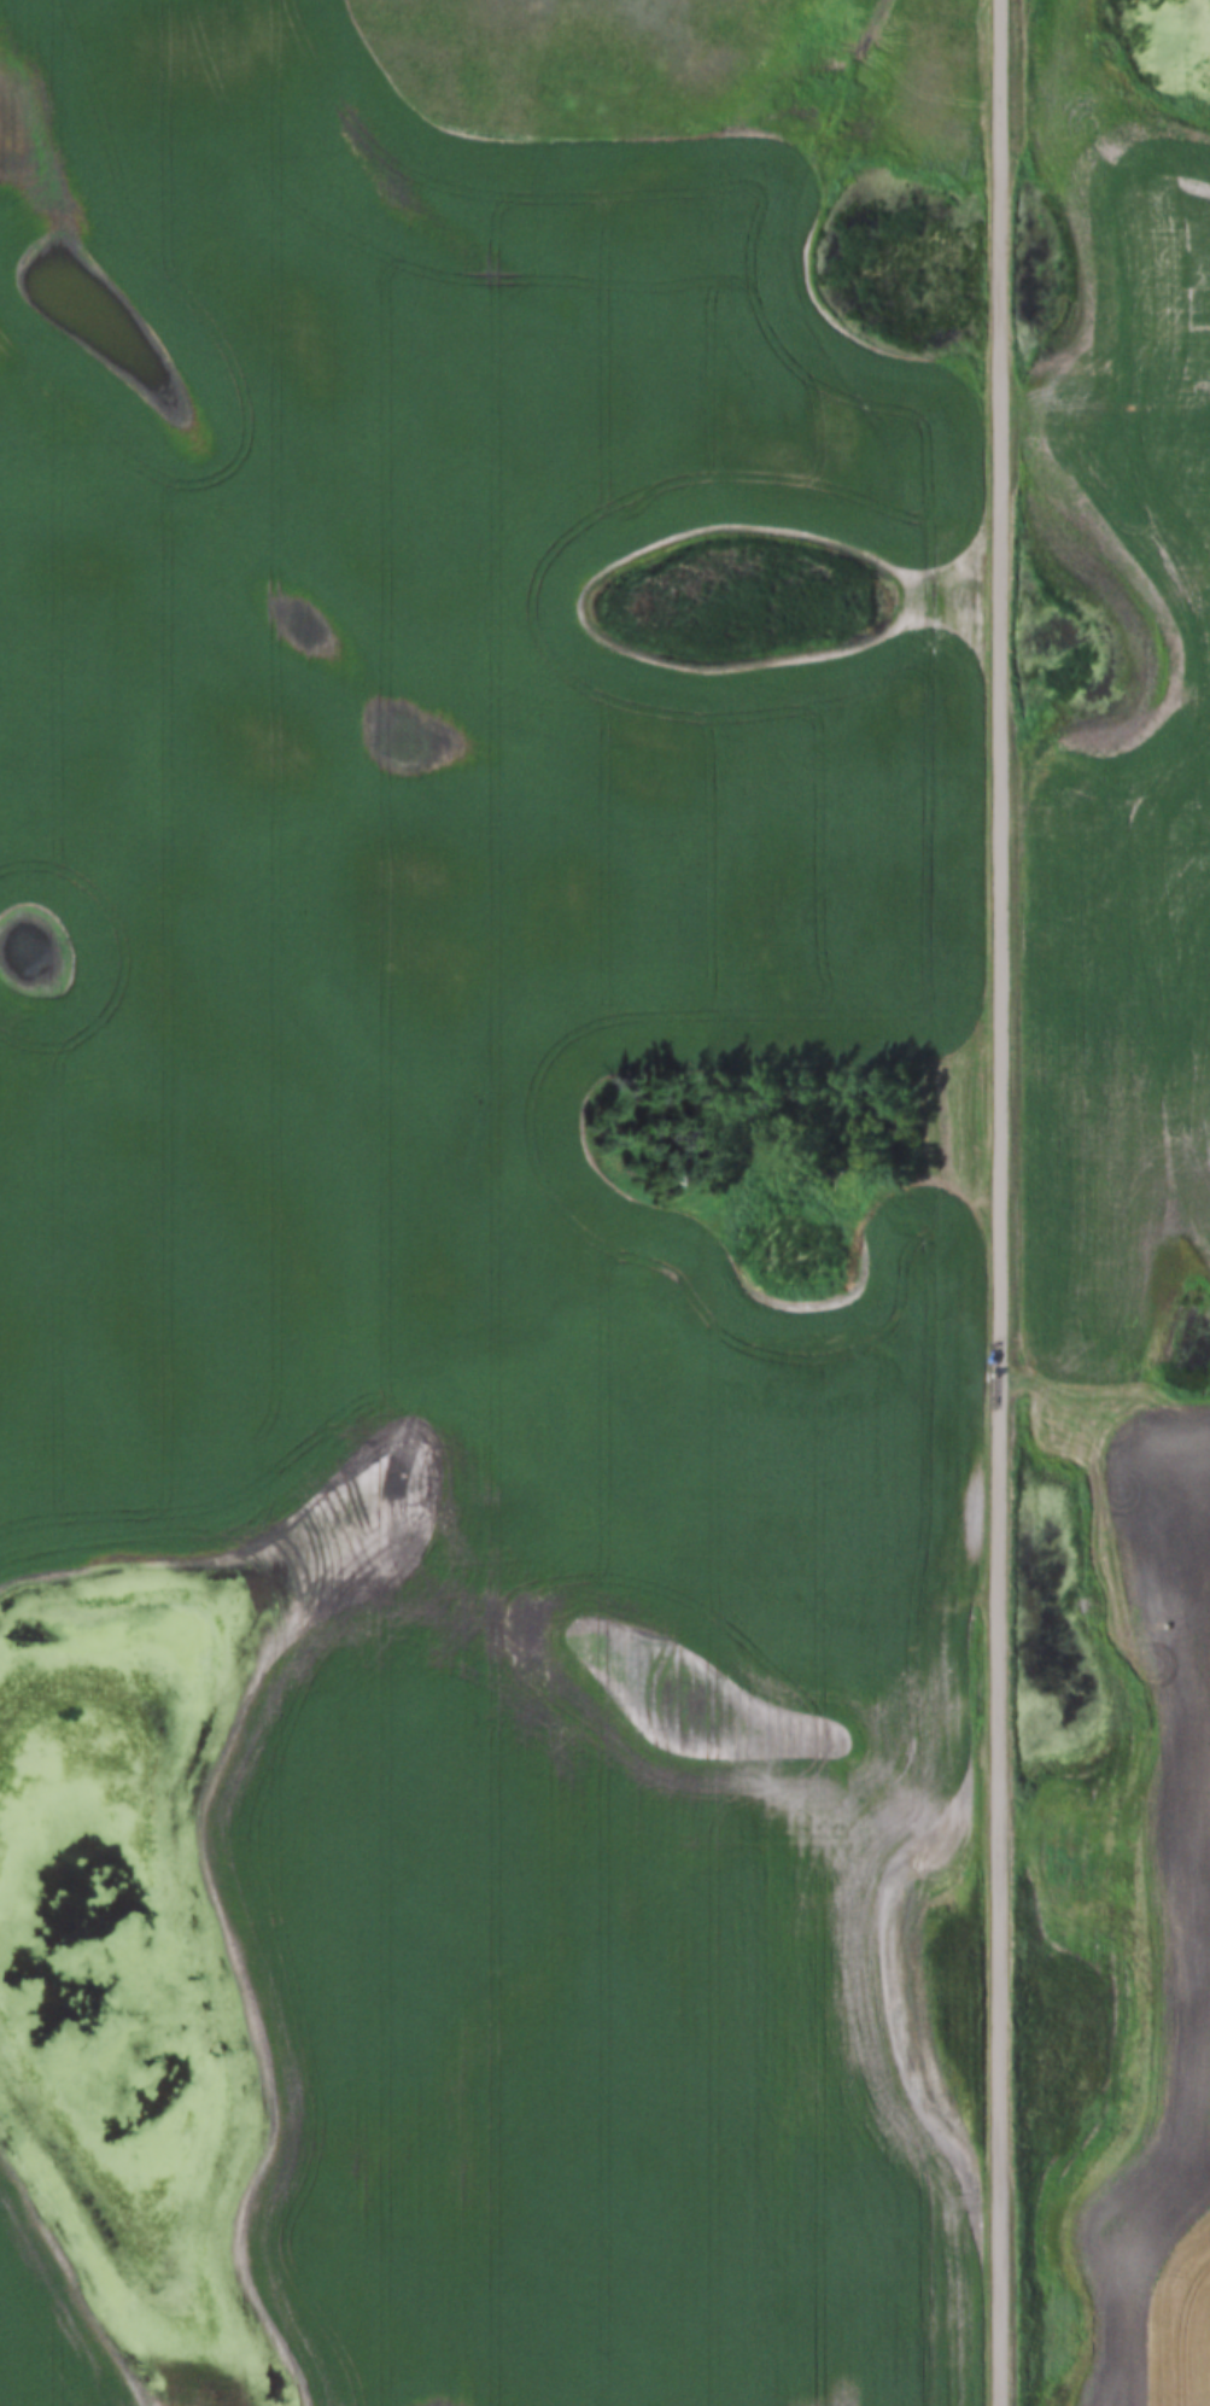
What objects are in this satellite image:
road: (1003, 1203)

